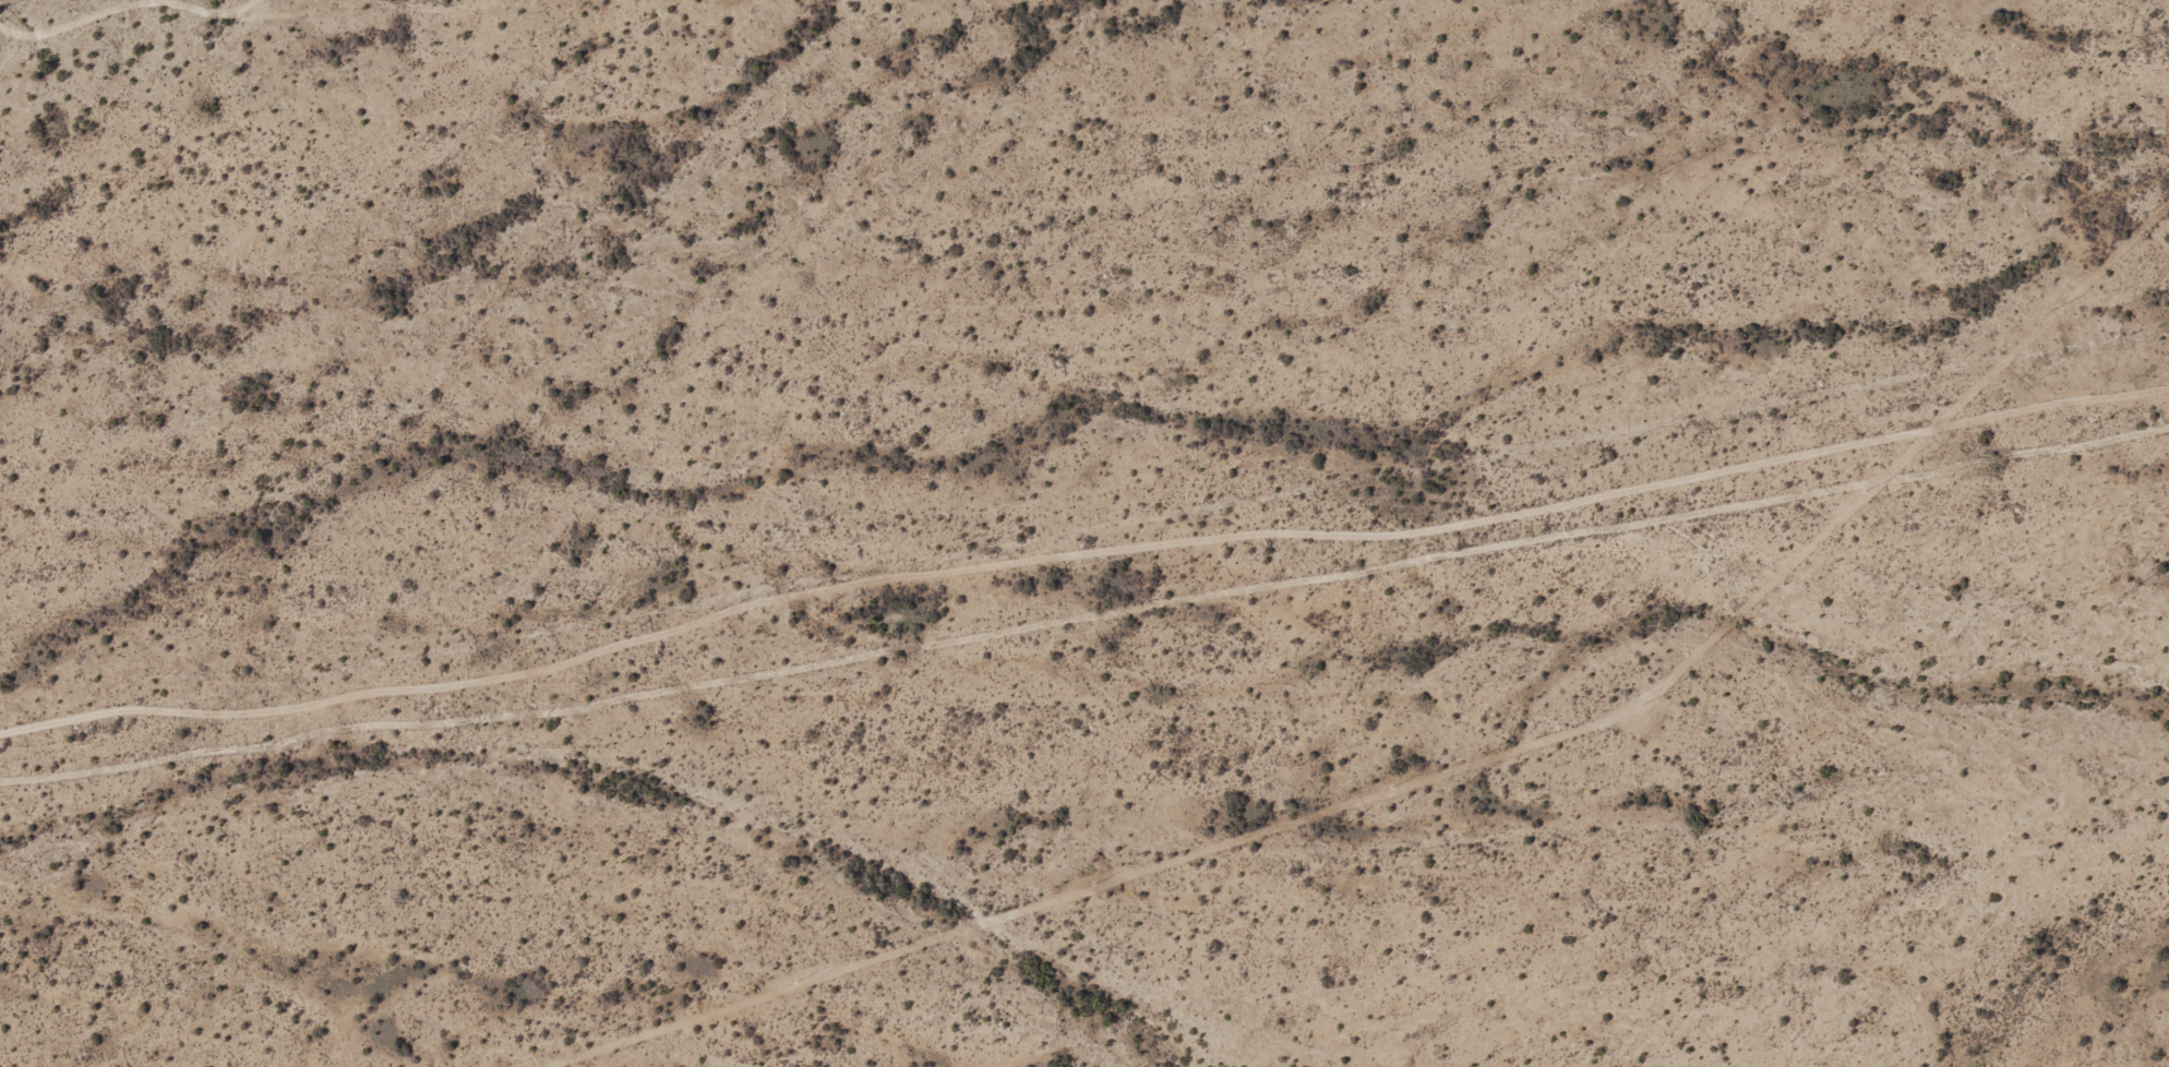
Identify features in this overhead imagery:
road: (1087, 560)

